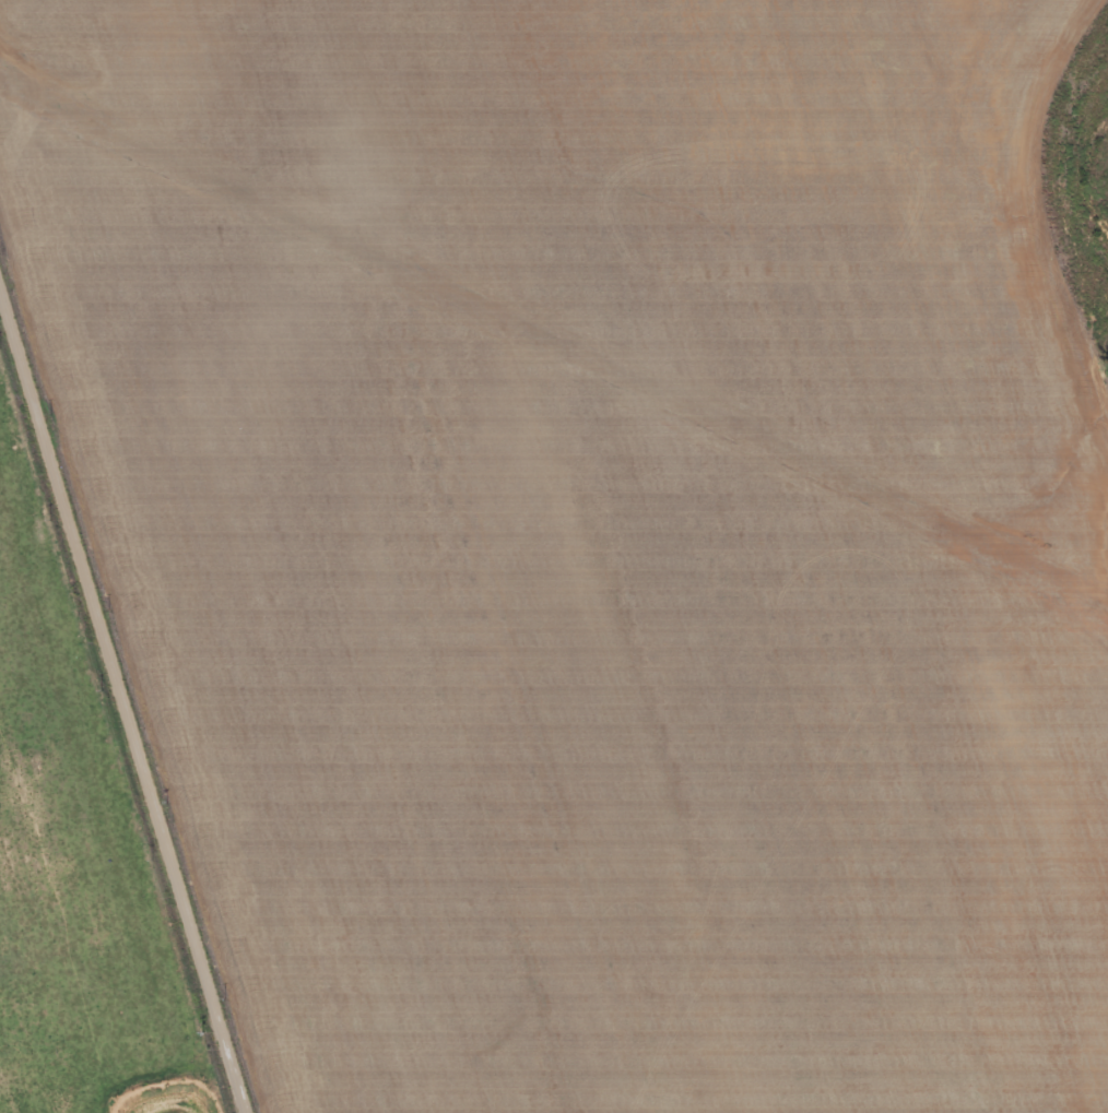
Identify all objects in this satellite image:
road: (126, 691)

